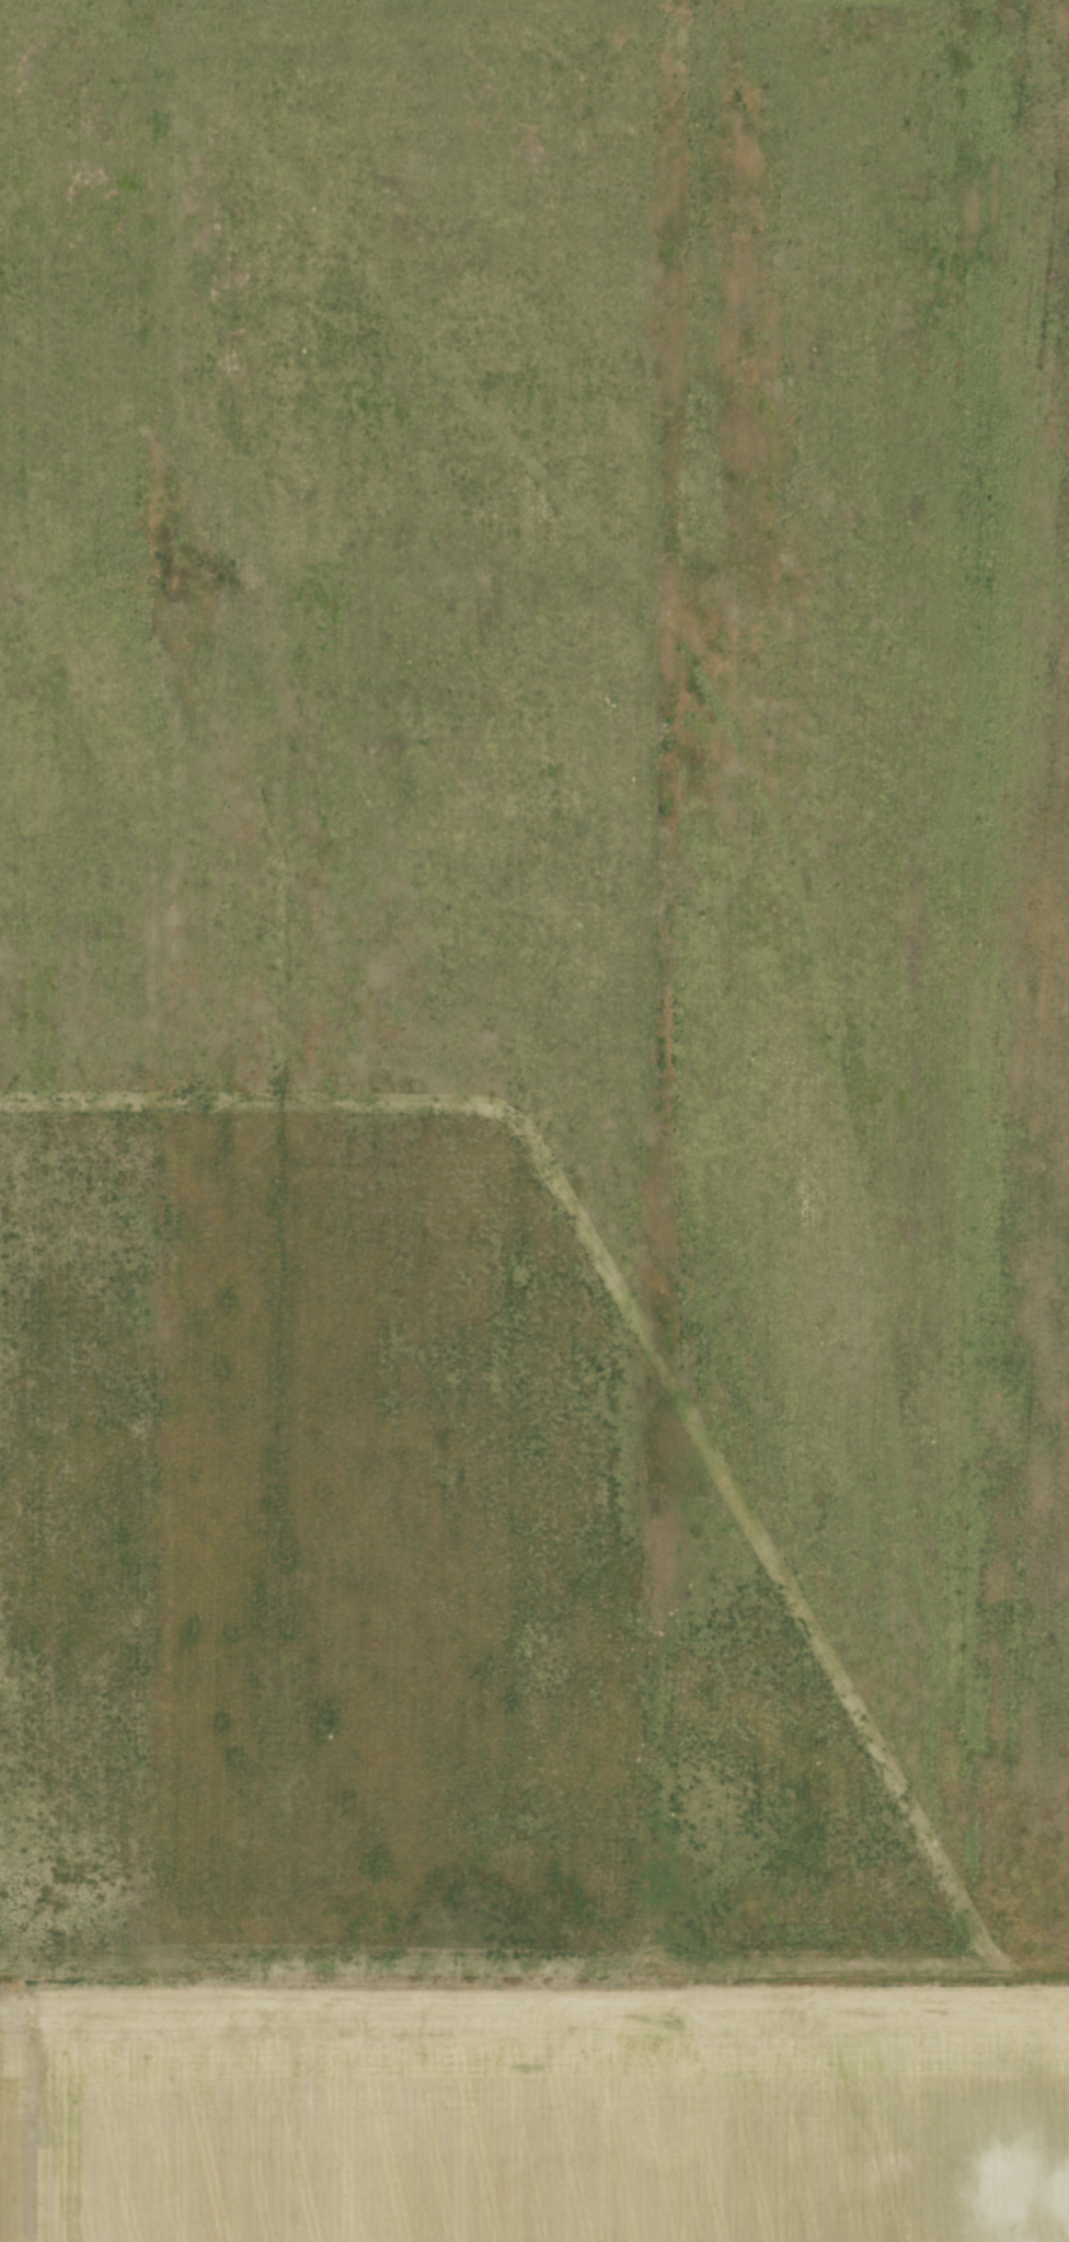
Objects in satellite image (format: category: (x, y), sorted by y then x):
crop: (518, 1072)

